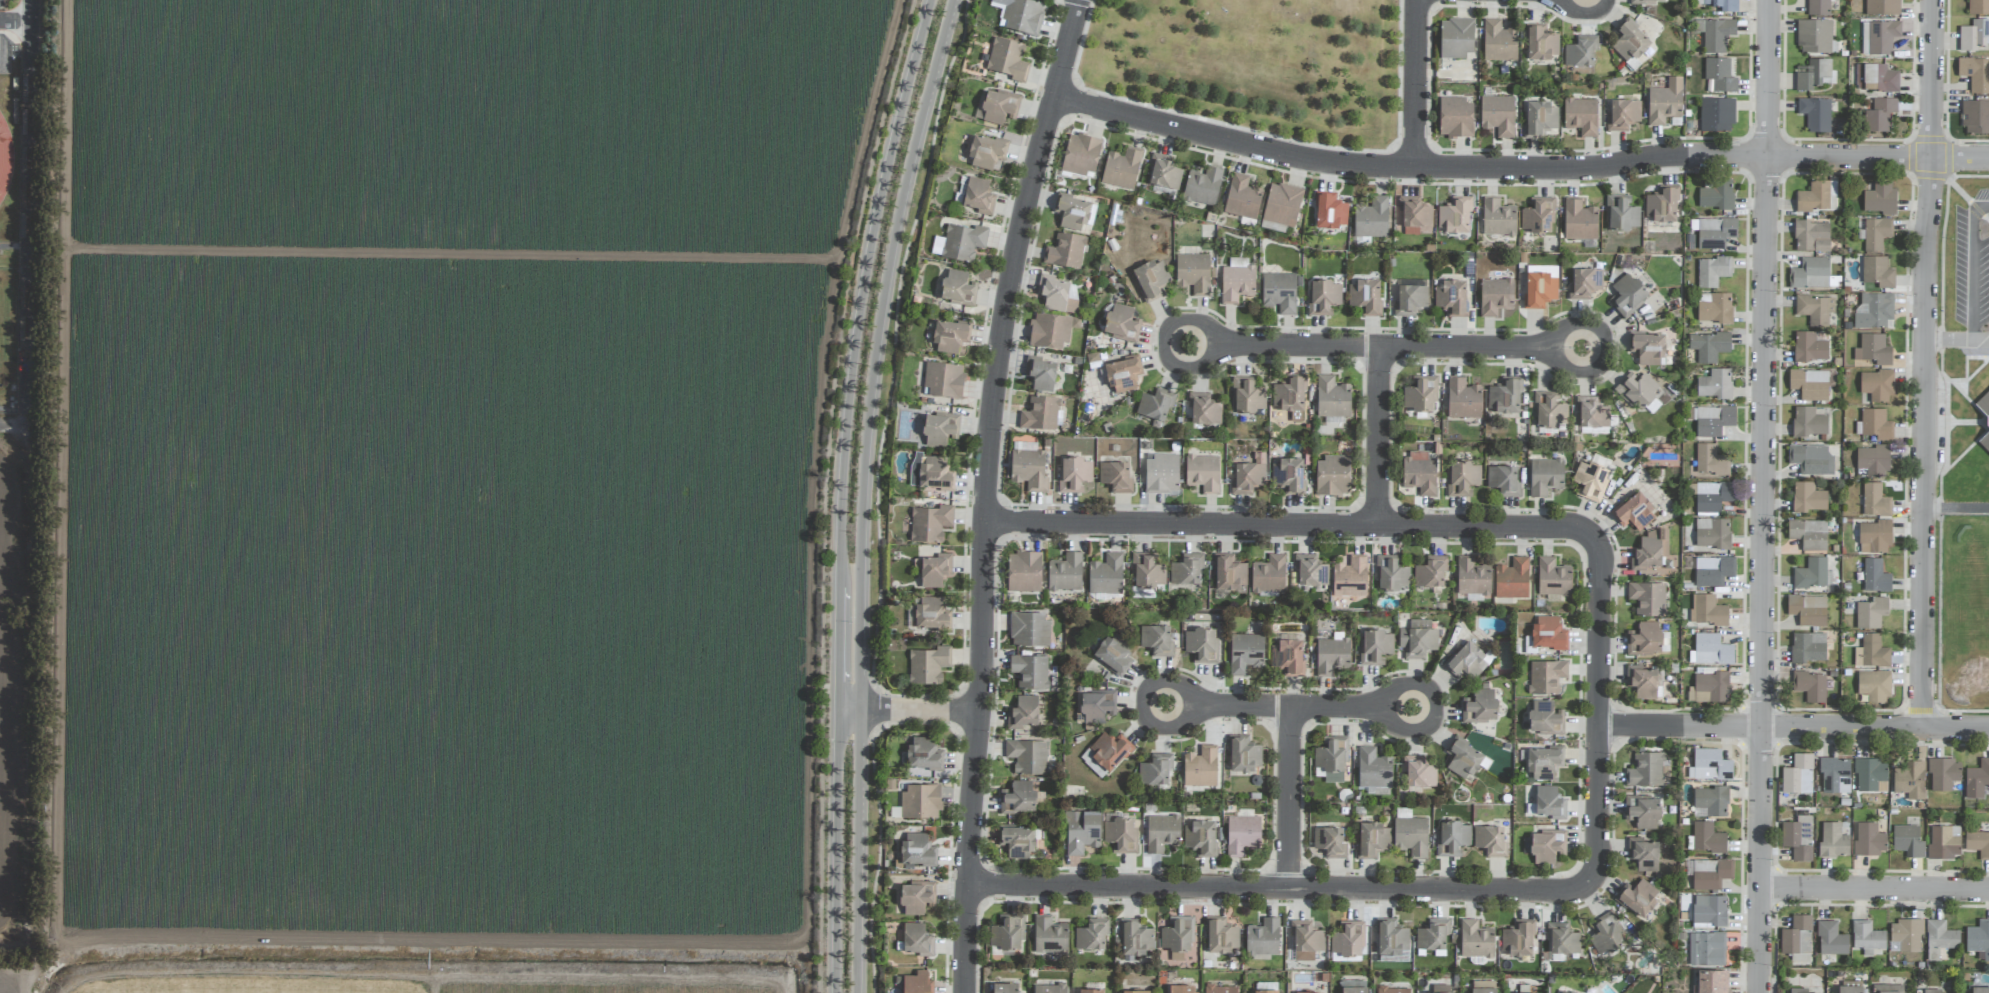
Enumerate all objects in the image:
building: (1647, 1)
building: (1726, 5)
building: (1882, 7)
building: (1978, 7)
building: (1818, 8)
road: (30, 10)
building: (1021, 15)
road: (15, 19)
building: (1974, 35)
building: (1815, 37)
building: (1879, 37)
building: (1456, 38)
building: (1630, 41)
building: (1498, 42)
building: (1540, 44)
building: (1580, 52)
building: (1007, 59)
park: (1255, 64)
building: (1975, 74)
building: (1720, 75)
building: (1814, 75)
building: (1876, 78)
road: (1417, 84)
building: (1664, 102)
building: (998, 107)
building: (1815, 114)
building: (1497, 115)
building: (1622, 115)
building: (1717, 115)
building: (1880, 115)
building: (1581, 116)
building: (1975, 117)
building: (1455, 118)
building: (1540, 118)
building: (985, 152)
building: (1081, 155)
track: (5, 157)
road: (889, 157)
road: (911, 161)
building: (1121, 168)
road: (1519, 169)
building: (1163, 172)
building: (1202, 187)
building: (1717, 195)
building: (978, 196)
building: (1818, 197)
building: (1242, 198)
building: (1880, 198)
building: (1281, 205)
building: (1661, 205)
building: (1074, 212)
building: (1329, 212)
building: (1621, 214)
building: (1412, 215)
building: (1537, 215)
building: (1454, 216)
building: (1371, 218)
building: (1498, 218)
building: (1579, 221)
building: (1713, 232)
building: (1876, 233)
building: (1811, 236)
building: (963, 242)
building: (937, 245)
building: (1065, 251)
road: (1972, 264)
building: (1712, 271)
building: (1877, 272)
building: (1193, 273)
building: (1810, 274)
building: (1151, 279)
building: (1237, 281)
building: (1585, 283)
building: (1539, 286)
building: (958, 288)
building: (1279, 292)
building: (1055, 294)
building: (1627, 295)
building: (1495, 296)
building: (1323, 297)
building: (1365, 297)
building: (1451, 298)
building: (1410, 300)
building: (1714, 308)
building: (1815, 309)
building: (1875, 311)
building: (1121, 323)
building: (1051, 330)
building: (949, 336)
road: (1980, 336)
road: (1949, 337)
building: (1709, 346)
building: (1810, 346)
road: (1387, 347)
building: (1648, 349)
building: (1873, 350)
road: (1925, 364)
building: (1041, 373)
building: (1123, 375)
building: (943, 380)
building: (1714, 384)
building: (1809, 384)
building: (1877, 385)
building: (1637, 390)
building: (1420, 394)
building: (1504, 396)
building: (1247, 397)
building: (1290, 397)
building: (1332, 398)
building: (1463, 400)
building: (1983, 404)
building: (1155, 406)
building: (1203, 409)
road: (7, 410)
building: (1549, 411)
building: (1590, 413)
building: (1040, 414)
building: (1713, 421)
building: (1808, 422)
building: (1876, 425)
building: (940, 429)
building: (1593, 431)
road: (1381, 437)
building: (1985, 443)
building: (1811, 459)
building: (1710, 461)
building: (1873, 461)
building: (1029, 470)
building: (1203, 473)
building: (1419, 473)
building: (1073, 474)
building: (1162, 474)
building: (1289, 475)
building: (1115, 476)
building: (1332, 476)
building: (1545, 476)
building: (1247, 477)
building: (1462, 478)
building: (1503, 480)
building: (1591, 481)
crop: (435, 489)
road: (987, 491)
building: (1711, 496)
road: (1765, 496)
building: (1808, 498)
building: (1875, 501)
building: (1634, 512)
road: (860, 515)
building: (930, 523)
road: (1295, 526)
building: (1712, 533)
building: (1808, 534)
building: (1874, 537)
building: (1651, 551)
building: (1186, 569)
building: (934, 570)
building: (1310, 570)
building: (1147, 571)
building: (1713, 571)
building: (1023, 572)
building: (1065, 573)
building: (1229, 573)
building: (1430, 573)
building: (1811, 573)
building: (1391, 574)
building: (1106, 575)
building: (1268, 575)
building: (1875, 576)
building: (1472, 577)
building: (1349, 578)
building: (1553, 578)
building: (1512, 579)
building: (1647, 598)
building: (1808, 610)
building: (1710, 611)
building: (1871, 613)
building: (930, 614)
building: (1029, 630)
building: (1547, 633)
building: (1417, 639)
building: (1644, 639)
building: (1156, 640)
building: (1201, 645)
building: (1376, 646)
building: (1808, 647)
building: (1712, 650)
building: (1245, 652)
building: (1871, 652)
building: (1113, 653)
building: (1332, 654)
road: (834, 655)
building: (1288, 657)
building: (1466, 659)
building: (928, 665)
building: (1030, 671)
building: (1546, 677)
building: (1642, 681)
building: (1810, 686)
building: (1874, 686)
building: (1709, 688)
building: (1097, 706)
road: (1277, 707)
building: (1479, 707)
road: (907, 709)
building: (1022, 712)
road: (1602, 713)
building: (1545, 718)
road: (1683, 727)
road: (1876, 728)
building: (1109, 750)
building: (1243, 755)
building: (923, 756)
building: (1027, 757)
building: (1331, 759)
building: (1462, 759)
building: (1543, 762)
building: (1710, 766)
building: (1200, 767)
building: (1648, 769)
building: (1155, 770)
building: (1374, 771)
building: (1418, 772)
building: (1869, 774)
building: (1944, 774)
building: (1798, 775)
building: (1835, 775)
building: (1910, 780)
building: (1977, 780)
building: (1018, 798)
road: (1292, 798)
building: (920, 801)
building: (1710, 802)
building: (1548, 803)
building: (1643, 812)
building: (1403, 813)
building: (1081, 832)
building: (1162, 833)
building: (1242, 835)
building: (1120, 836)
building: (1410, 837)
building: (1452, 837)
building: (1798, 837)
building: (1200, 838)
building: (1707, 838)
building: (1372, 839)
building: (1869, 839)
building: (1489, 840)
building: (1833, 840)
building: (1017, 841)
building: (1908, 841)
building: (1329, 842)
building: (1944, 842)
building: (1978, 843)
building: (1547, 847)
building: (916, 850)
road: (856, 851)
building: (1643, 854)
building: (1710, 874)
road: (1283, 887)
road: (1875, 890)
building: (917, 897)
building: (1638, 897)
building: (1709, 911)
building: (1005, 934)
building: (1605, 934)
building: (1049, 935)
building: (1091, 935)
building: (1906, 935)
building: (1177, 936)
building: (1221, 936)
building: (1797, 936)
building: (1432, 937)
building: (1867, 937)
building: (1135, 938)
building: (1263, 938)
building: (1391, 938)
building: (1940, 938)
building: (1978, 938)
building: (1517, 939)
building: (1562, 939)
building: (1831, 939)
building: (917, 940)
building: (1348, 940)
building: (1475, 940)
building: (1306, 941)
building: (1707, 949)
building: (1710, 982)
building: (916, 983)
building: (1354, 986)
building: (1484, 987)
building: (1003, 988)
building: (1049, 988)
building: (1887, 988)
building: (1182, 989)
building: (1220, 989)
building: (1441, 989)
building: (1850, 989)
building: (1393, 990)
building: (1798, 990)
building: (1979, 990)
building: (1090, 991)
building: (1267, 991)
building: (1932, 991)
building: (1134, 992)
building: (1309, 992)
building: (1563, 992)

